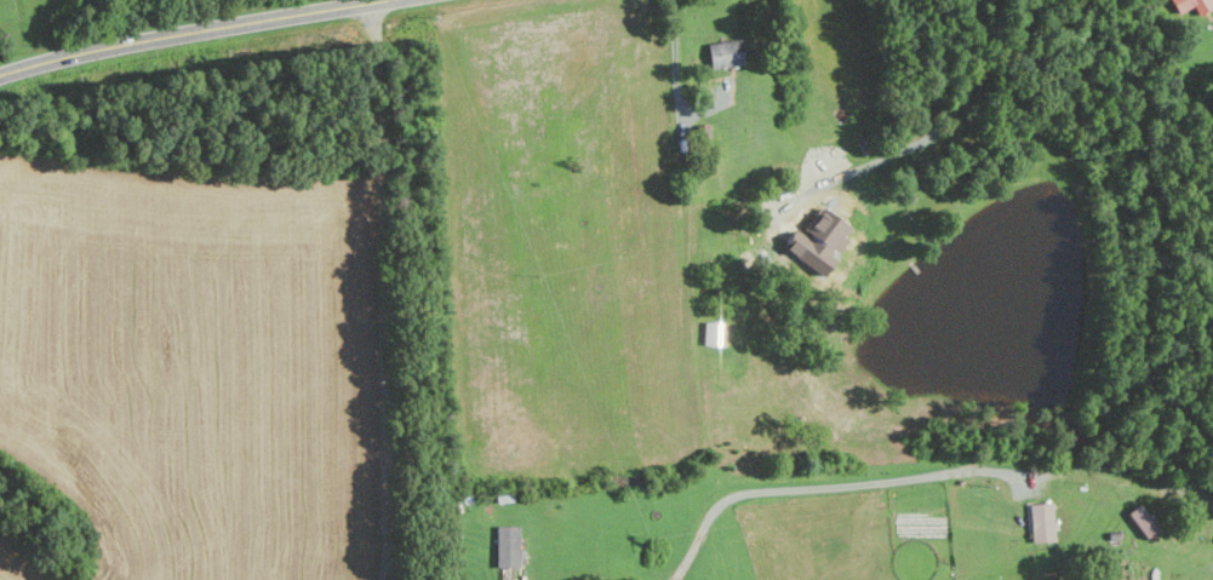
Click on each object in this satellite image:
building: (1194, 5)
road: (195, 33)
building: (726, 53)
road: (677, 74)
road: (896, 168)
road: (385, 286)
road: (881, 486)
building: (1143, 522)
building: (1042, 523)
building: (508, 546)
road: (391, 567)

